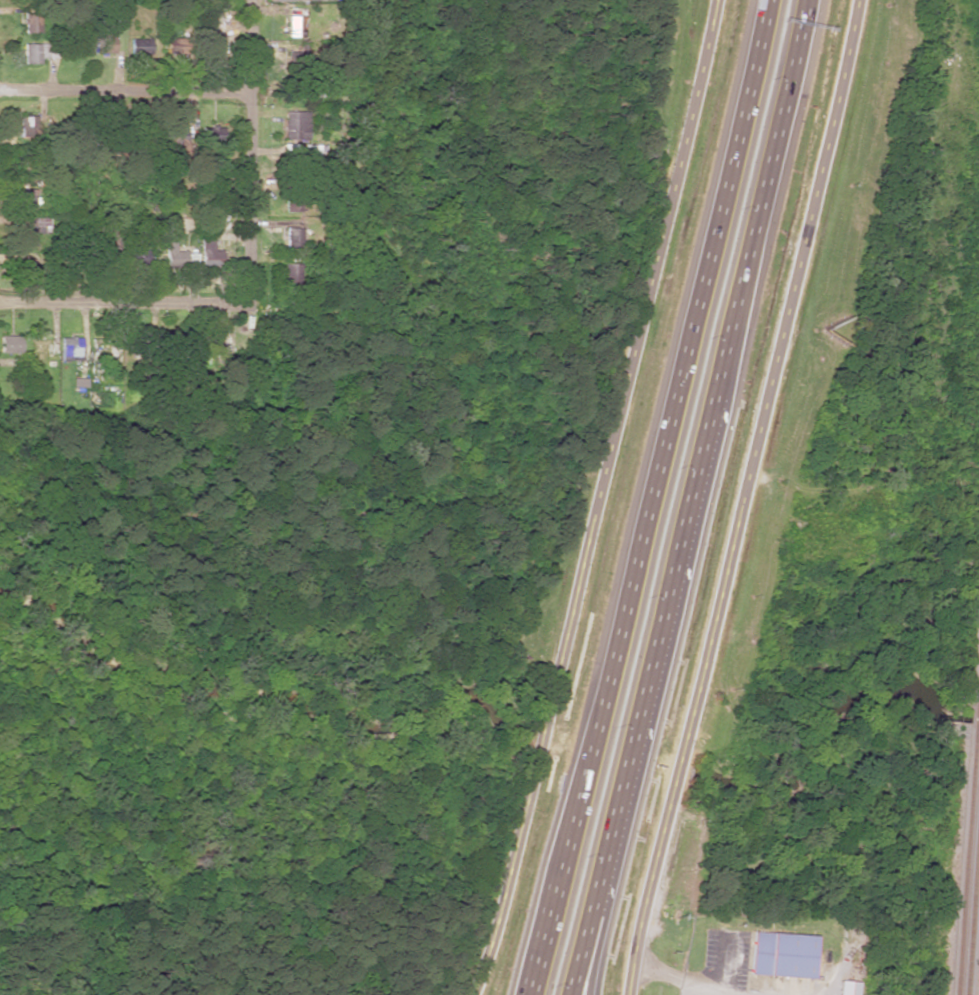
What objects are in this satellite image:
building: (31, 22)
building: (293, 26)
building: (105, 45)
building: (33, 53)
road: (125, 91)
building: (295, 125)
building: (27, 126)
building: (178, 141)
road: (248, 152)
building: (301, 154)
building: (27, 201)
building: (31, 228)
building: (292, 238)
building: (209, 253)
building: (178, 257)
building: (26, 271)
building: (291, 274)
road: (123, 304)
building: (10, 344)
building: (70, 349)
road: (653, 497)
road: (685, 497)
road: (743, 497)
road: (598, 498)
railway: (967, 841)
railway: (972, 905)
road: (587, 947)
building: (779, 955)
building: (843, 988)

